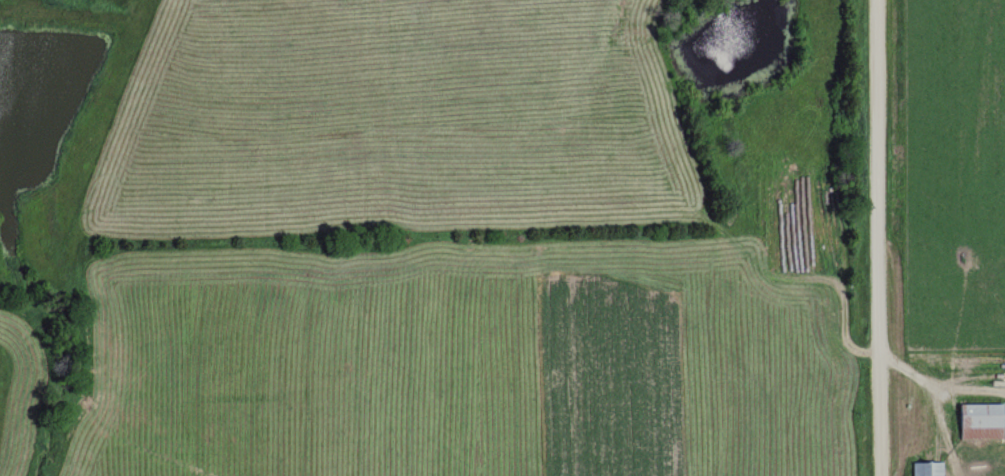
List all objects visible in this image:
road: (878, 237)
building: (923, 468)

